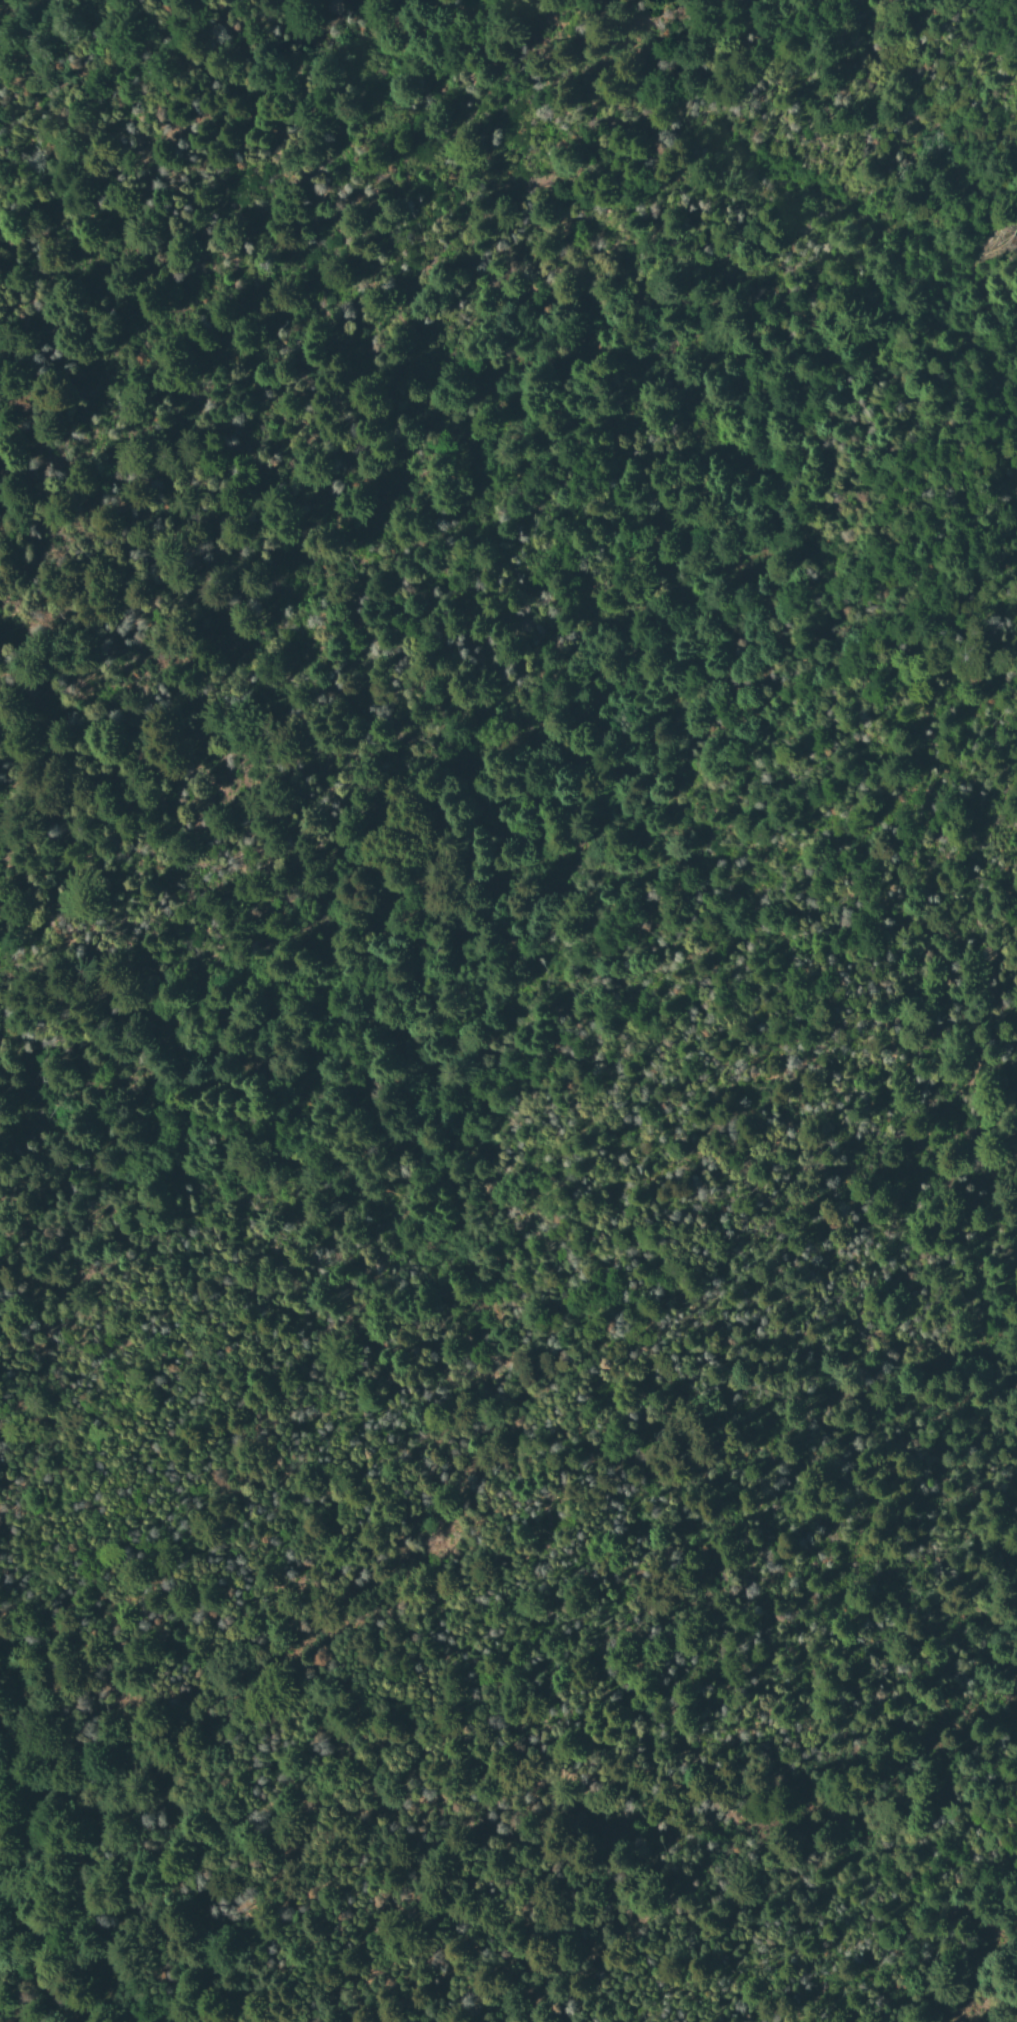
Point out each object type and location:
road: (62, 1953)

